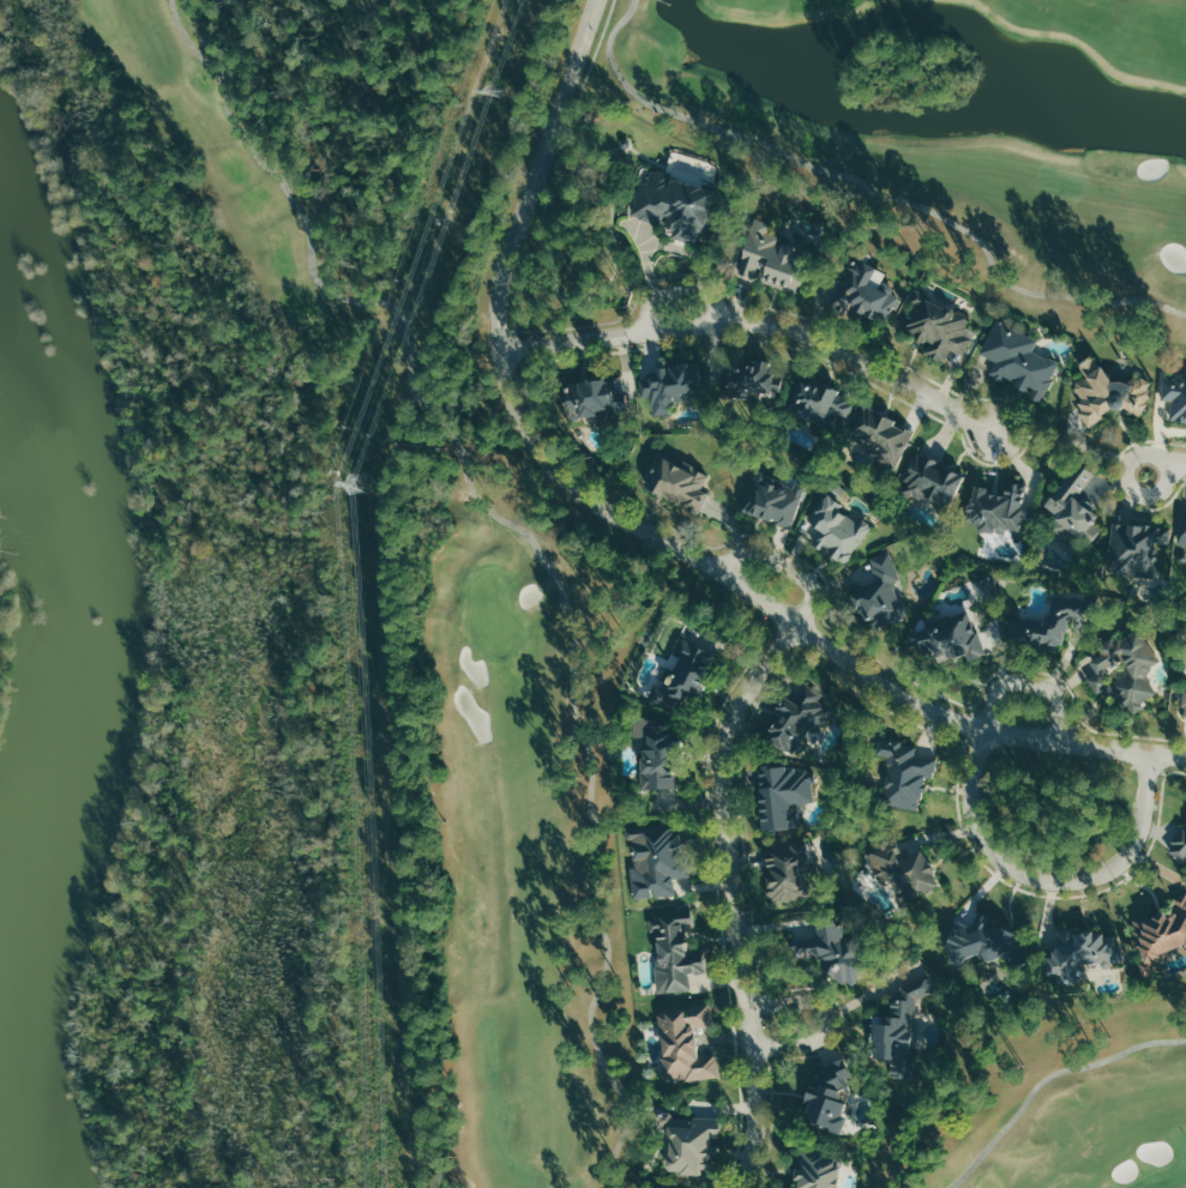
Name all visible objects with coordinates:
park: (781, 10)
park: (1107, 34)
power tower: (494, 90)
road: (552, 175)
road: (867, 187)
park: (938, 189)
building: (669, 205)
building: (766, 255)
road: (679, 291)
building: (867, 293)
road: (759, 321)
building: (938, 326)
building: (1018, 360)
building: (749, 381)
building: (669, 387)
building: (1107, 390)
building: (1175, 396)
building: (595, 398)
building: (819, 402)
road: (1028, 429)
building: (879, 434)
road: (1167, 470)
building: (931, 480)
road: (1112, 480)
building: (678, 482)
power tower: (357, 483)
building: (772, 500)
building: (995, 506)
building: (1076, 507)
building: (836, 525)
road: (640, 526)
building: (1179, 530)
road: (752, 536)
road: (530, 537)
building: (1136, 547)
road: (784, 566)
building: (879, 595)
park: (439, 598)
building: (1044, 631)
building: (952, 637)
building: (1121, 669)
road: (1043, 671)
building: (680, 675)
road: (1028, 685)
building: (1184, 701)
building: (795, 718)
road: (1131, 734)
building: (649, 753)
road: (1162, 771)
building: (903, 772)
building: (782, 795)
building: (1176, 840)
building: (655, 862)
building: (782, 870)
building: (902, 870)
road: (743, 875)
road: (1048, 879)
road: (1030, 891)
road: (732, 895)
road: (718, 917)
building: (1160, 934)
building: (827, 949)
building: (673, 951)
building: (1080, 953)
road: (825, 1018)
building: (897, 1021)
building: (684, 1042)
road: (1044, 1078)
building: (825, 1097)
park: (1053, 1102)
building: (687, 1142)
building: (815, 1169)

